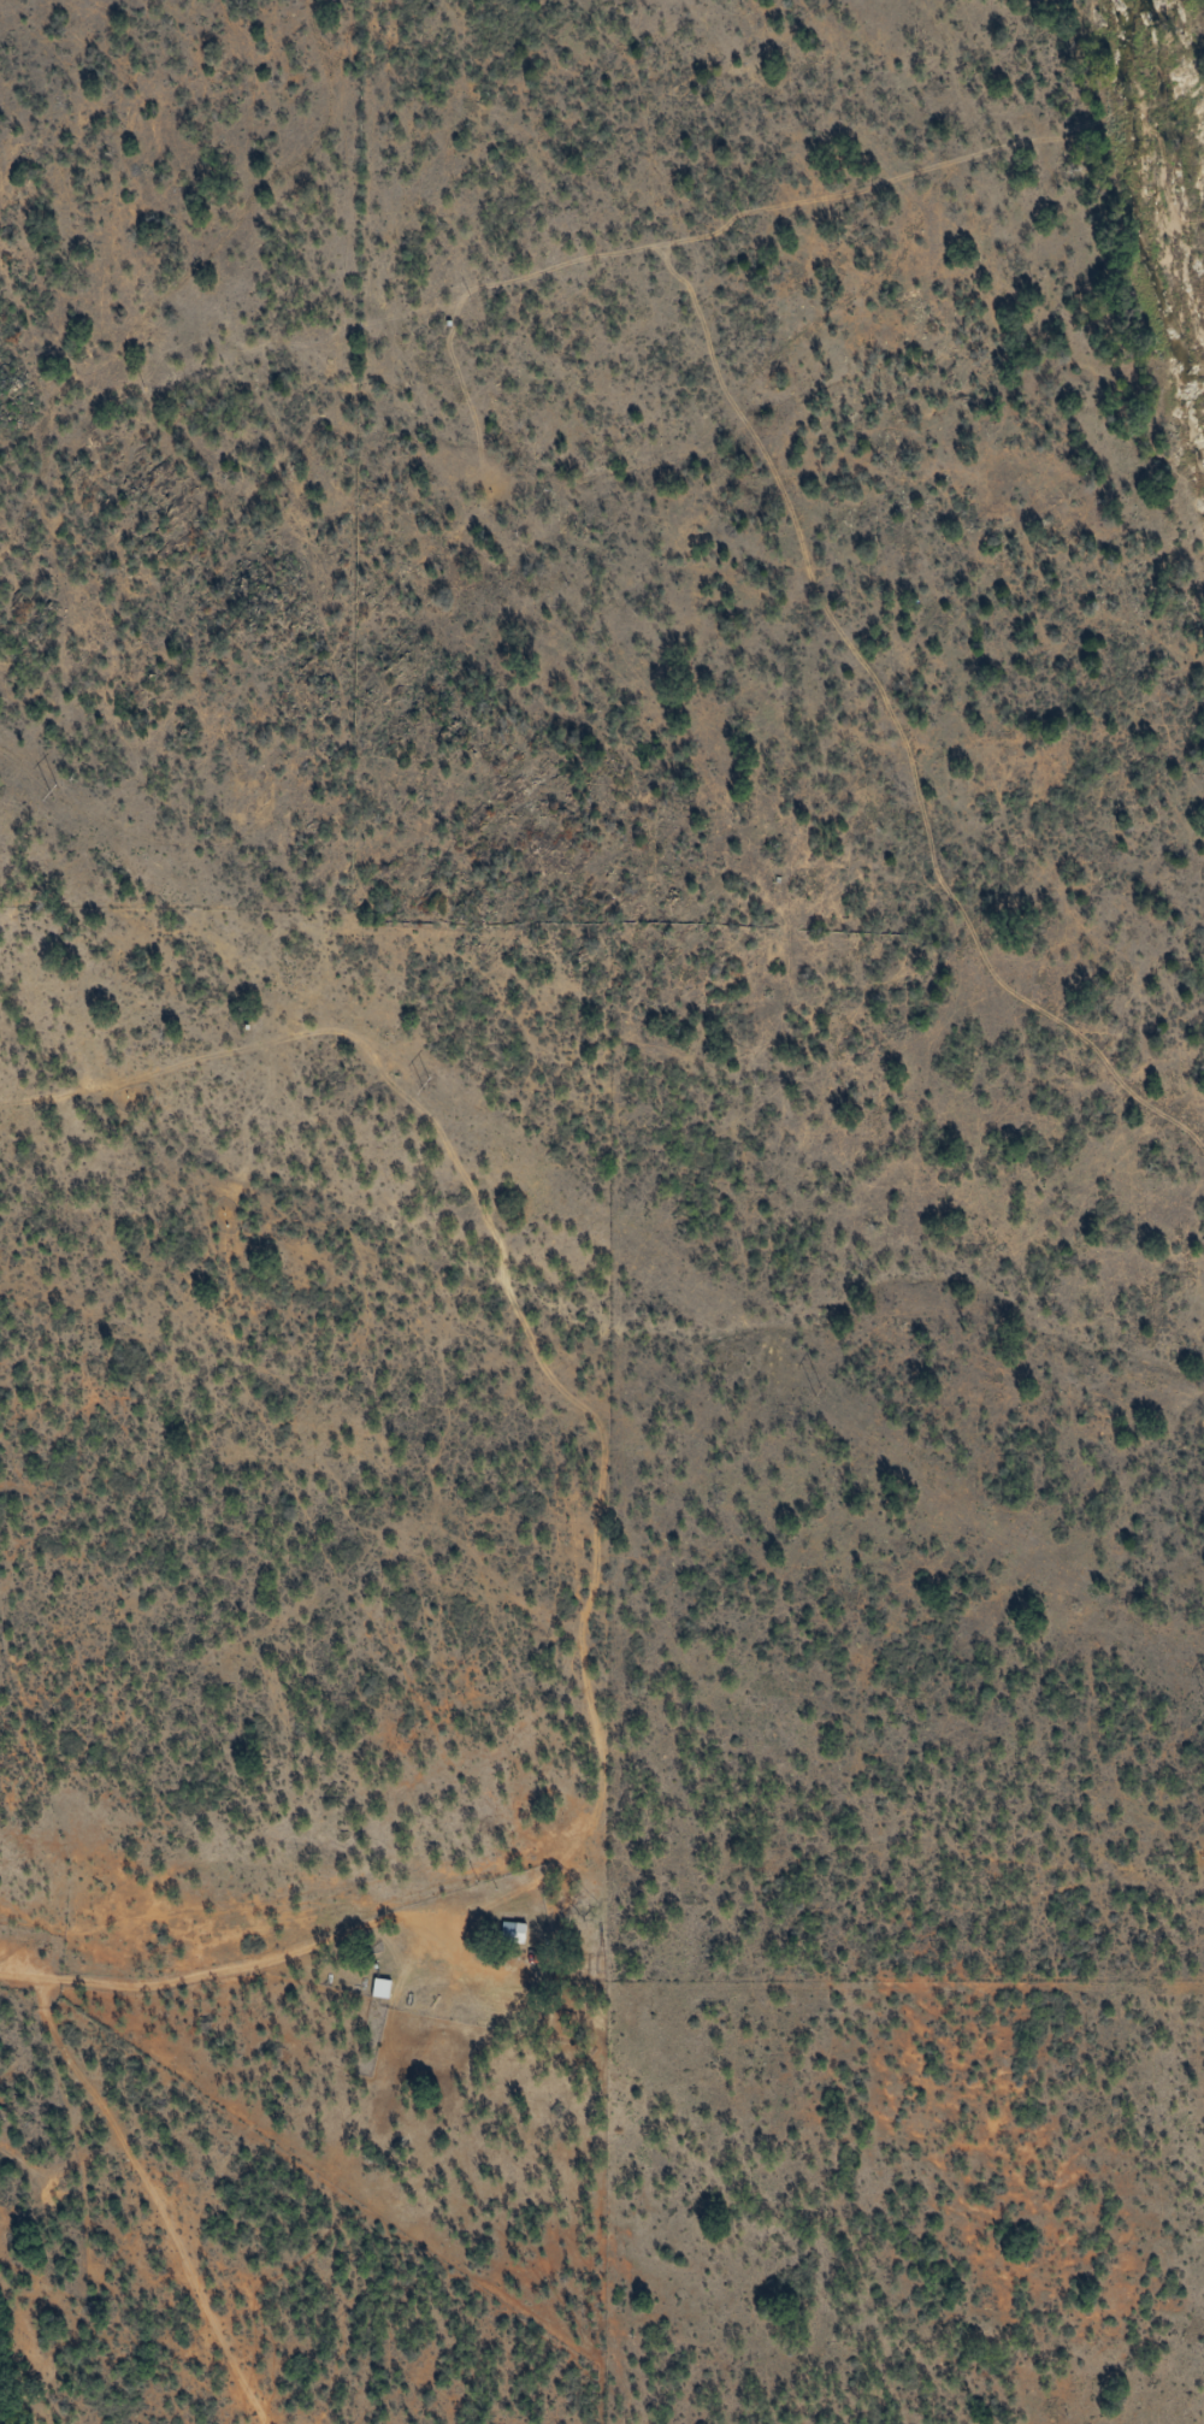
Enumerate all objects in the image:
power tower: (53, 792)
power tower: (429, 1080)
road: (401, 1267)
power tower: (825, 1393)
road: (597, 1860)
building: (514, 1933)
road: (143, 2201)

